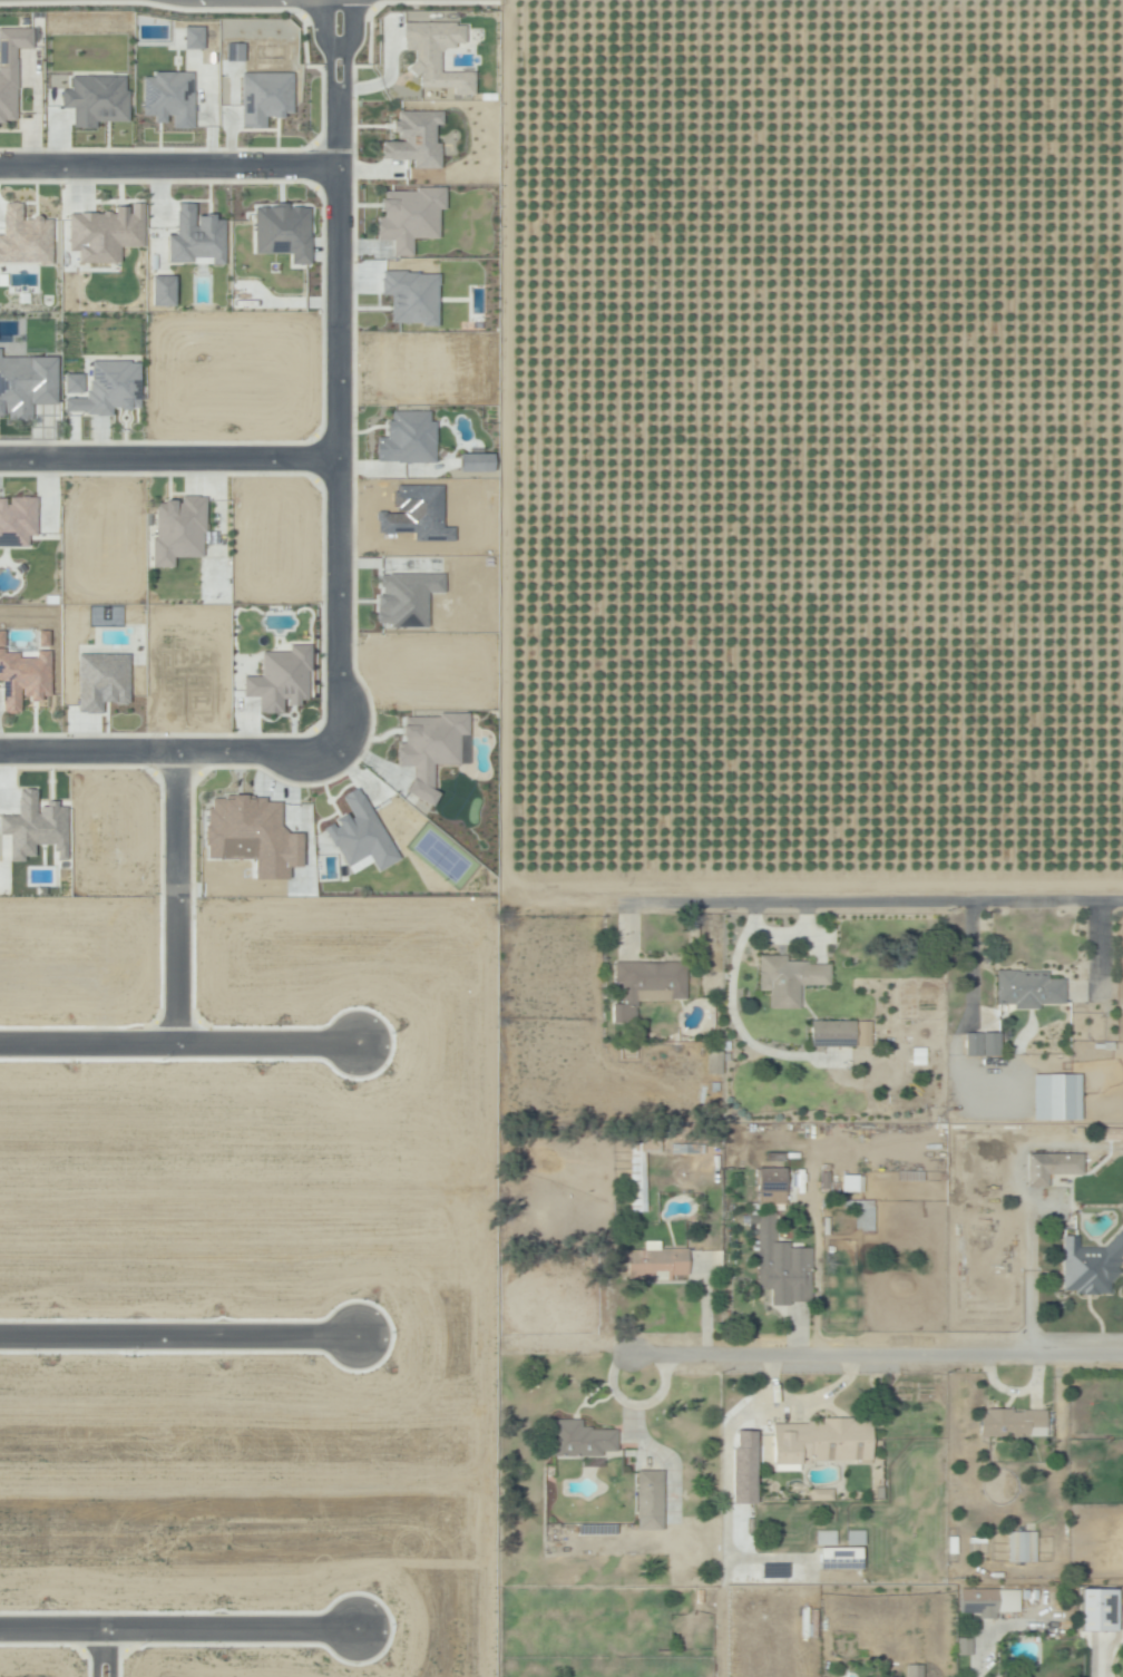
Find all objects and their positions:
building: (191, 38)
building: (232, 52)
building: (434, 55)
building: (10, 67)
building: (263, 97)
building: (167, 98)
building: (94, 99)
building: (413, 138)
road: (168, 173)
building: (407, 217)
building: (281, 231)
building: (104, 233)
building: (22, 237)
building: (194, 237)
building: (160, 291)
building: (410, 296)
road: (338, 379)
building: (25, 384)
building: (100, 388)
building: (406, 438)
building: (473, 462)
road: (168, 465)
building: (16, 520)
building: (176, 530)
building: (403, 598)
building: (21, 679)
building: (279, 679)
building: (99, 681)
building: (427, 748)
road: (168, 757)
building: (33, 827)
building: (358, 833)
building: (250, 836)
building: (322, 844)
road: (811, 893)
road: (175, 903)
building: (791, 979)
building: (647, 986)
building: (1029, 988)
building: (833, 1033)
building: (861, 1033)
building: (979, 1044)
building: (725, 1045)
building: (1105, 1046)
road: (179, 1049)
building: (919, 1056)
building: (714, 1064)
building: (714, 1088)
building: (1056, 1093)
building: (1106, 1134)
building: (684, 1149)
building: (987, 1164)
building: (1064, 1164)
building: (641, 1170)
building: (772, 1179)
building: (862, 1213)
building: (657, 1264)
building: (1090, 1266)
building: (783, 1273)
road: (498, 1285)
road: (178, 1337)
road: (810, 1355)
building: (1012, 1422)
building: (580, 1440)
building: (824, 1443)
building: (741, 1466)
building: (879, 1493)
building: (650, 1496)
building: (821, 1496)
building: (595, 1529)
building: (826, 1538)
building: (857, 1538)
building: (978, 1541)
building: (957, 1547)
building: (1022, 1548)
building: (841, 1560)
building: (988, 1602)
building: (1095, 1610)
road: (180, 1634)
building: (960, 1646)
road: (95, 1656)
building: (915, 1671)
building: (998, 1676)

